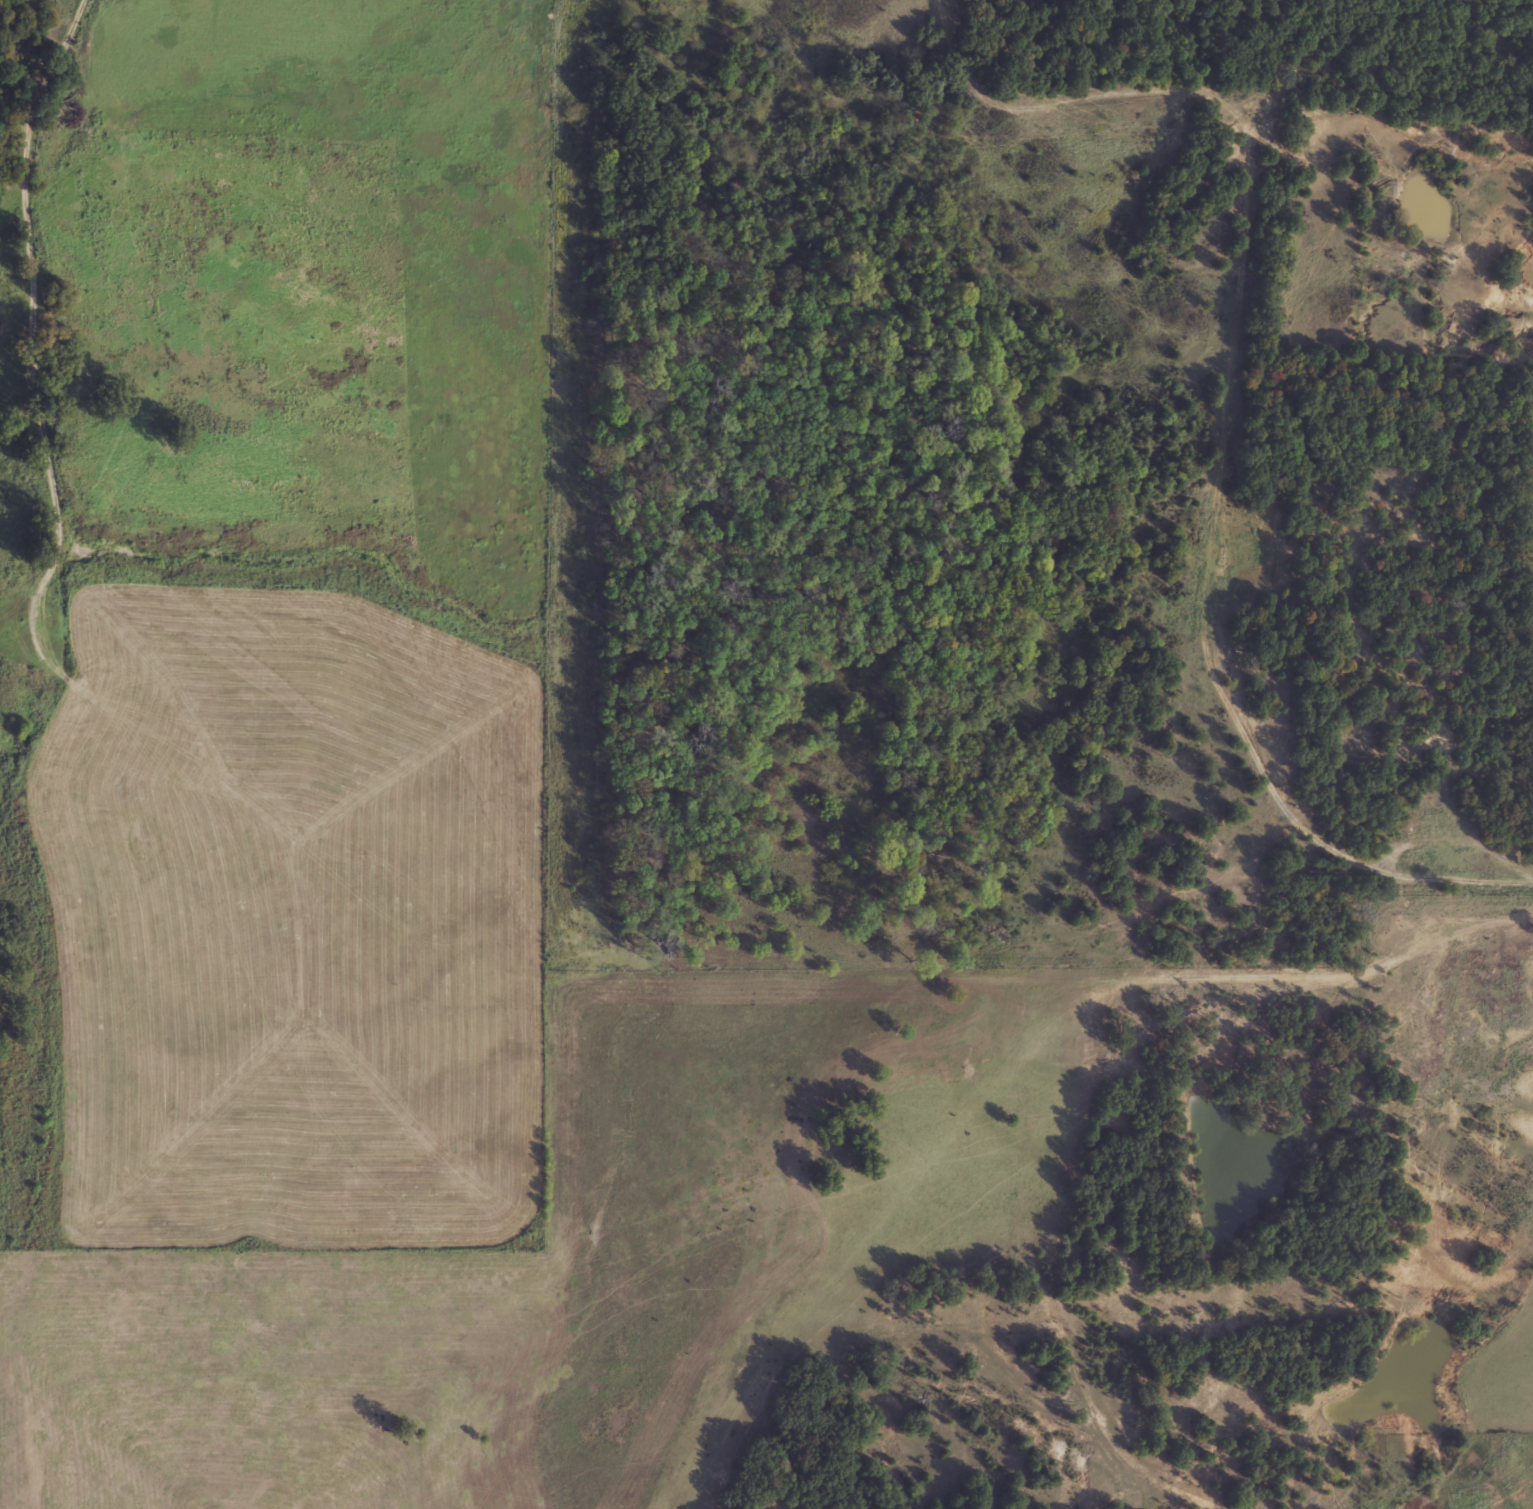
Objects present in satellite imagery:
road: (1315, 861)

